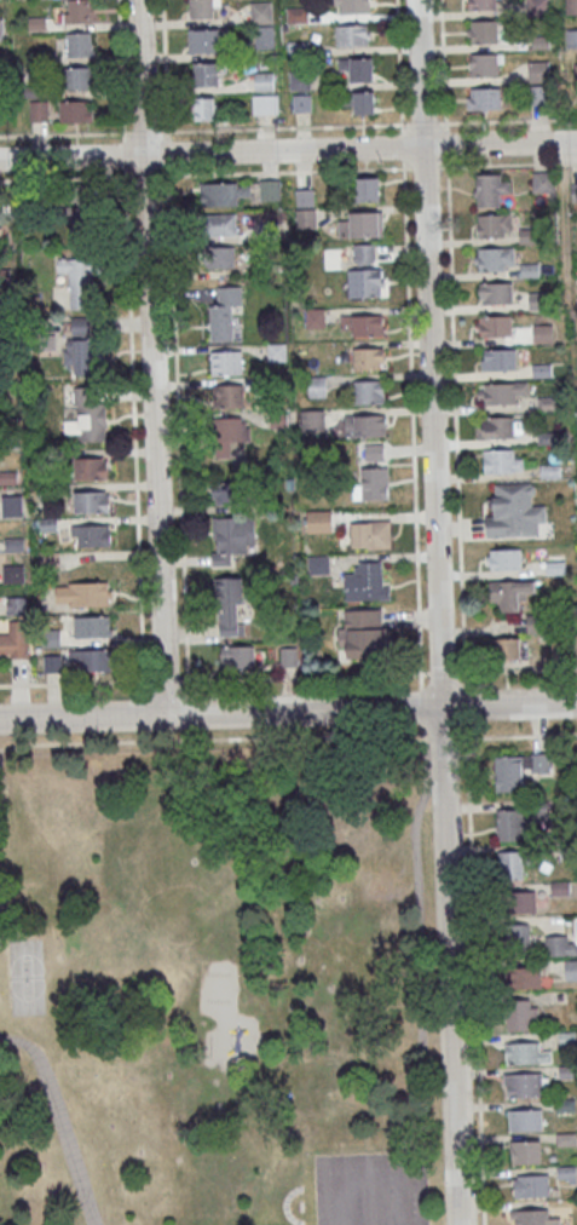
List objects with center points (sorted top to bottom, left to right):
building: (483, 4)
building: (350, 6)
building: (571, 6)
building: (537, 7)
building: (204, 8)
building: (79, 11)
building: (295, 15)
building: (261, 23)
building: (1, 29)
building: (484, 31)
building: (352, 35)
building: (571, 38)
building: (207, 40)
building: (79, 44)
building: (484, 64)
building: (356, 69)
building: (538, 70)
building: (206, 74)
building: (77, 76)
building: (262, 81)
building: (484, 97)
building: (363, 102)
building: (301, 103)
building: (264, 104)
building: (206, 109)
building: (37, 110)
building: (75, 110)
road: (288, 127)
road: (288, 150)
road: (288, 171)
building: (543, 180)
building: (270, 189)
building: (367, 189)
building: (490, 189)
building: (223, 192)
building: (575, 192)
building: (305, 196)
building: (305, 218)
building: (82, 219)
building: (360, 223)
building: (220, 224)
building: (494, 225)
building: (1, 236)
building: (363, 253)
building: (494, 258)
building: (220, 259)
building: (77, 281)
building: (368, 282)
building: (495, 292)
building: (536, 300)
building: (315, 317)
building: (223, 320)
building: (364, 324)
building: (82, 326)
building: (495, 326)
building: (543, 333)
road: (409, 335)
road: (454, 335)
building: (87, 356)
road: (150, 356)
building: (368, 357)
building: (497, 358)
building: (226, 362)
building: (316, 386)
building: (369, 391)
building: (500, 392)
building: (227, 395)
building: (86, 416)
building: (311, 419)
building: (364, 425)
building: (498, 427)
building: (230, 437)
building: (503, 460)
building: (90, 467)
building: (373, 483)
building: (231, 488)
building: (91, 501)
building: (12, 505)
building: (514, 511)
building: (319, 521)
building: (48, 523)
building: (91, 533)
building: (370, 534)
building: (233, 537)
building: (47, 558)
building: (503, 558)
building: (318, 564)
building: (12, 574)
building: (367, 581)
building: (81, 593)
building: (508, 593)
building: (16, 604)
building: (231, 608)
road: (438, 612)
building: (91, 626)
building: (365, 633)
building: (13, 646)
building: (506, 649)
building: (236, 658)
building: (90, 660)
road: (517, 669)
road: (443, 672)
road: (304, 675)
road: (465, 678)
road: (166, 680)
road: (421, 680)
road: (76, 681)
road: (422, 704)
road: (466, 704)
road: (288, 709)
road: (515, 736)
road: (444, 738)
road: (214, 740)
building: (517, 769)
building: (512, 824)
building: (510, 864)
building: (519, 902)
road: (1, 913)
building: (518, 938)
road: (420, 943)
building: (560, 945)
building: (570, 970)
building: (524, 977)
road: (474, 978)
park: (27, 979)
park: (217, 988)
building: (520, 1014)
building: (526, 1053)
building: (523, 1085)
road: (62, 1116)
building: (525, 1118)
building: (525, 1151)
road: (374, 1162)
building: (531, 1185)
parking lot: (369, 1189)
building: (532, 1218)

